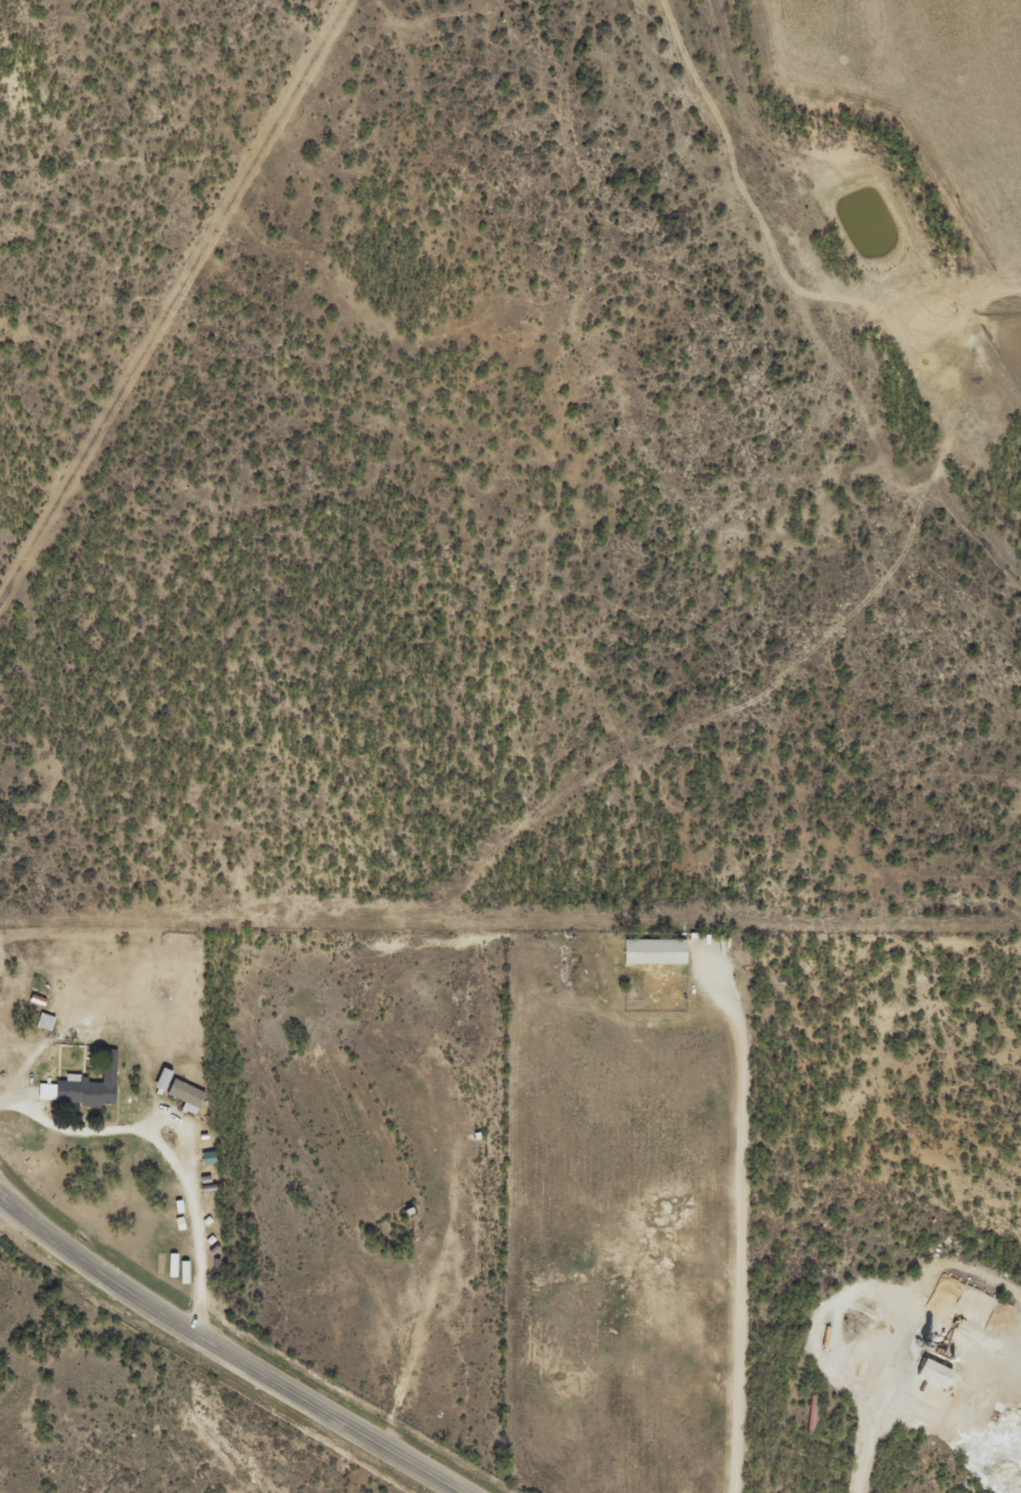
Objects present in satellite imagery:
building: (654, 950)
building: (45, 1021)
building: (162, 1079)
building: (84, 1086)
building: (186, 1095)
road: (729, 1194)
road: (333, 1249)
building: (160, 1263)
building: (185, 1272)
road: (205, 1363)
building: (933, 1372)

